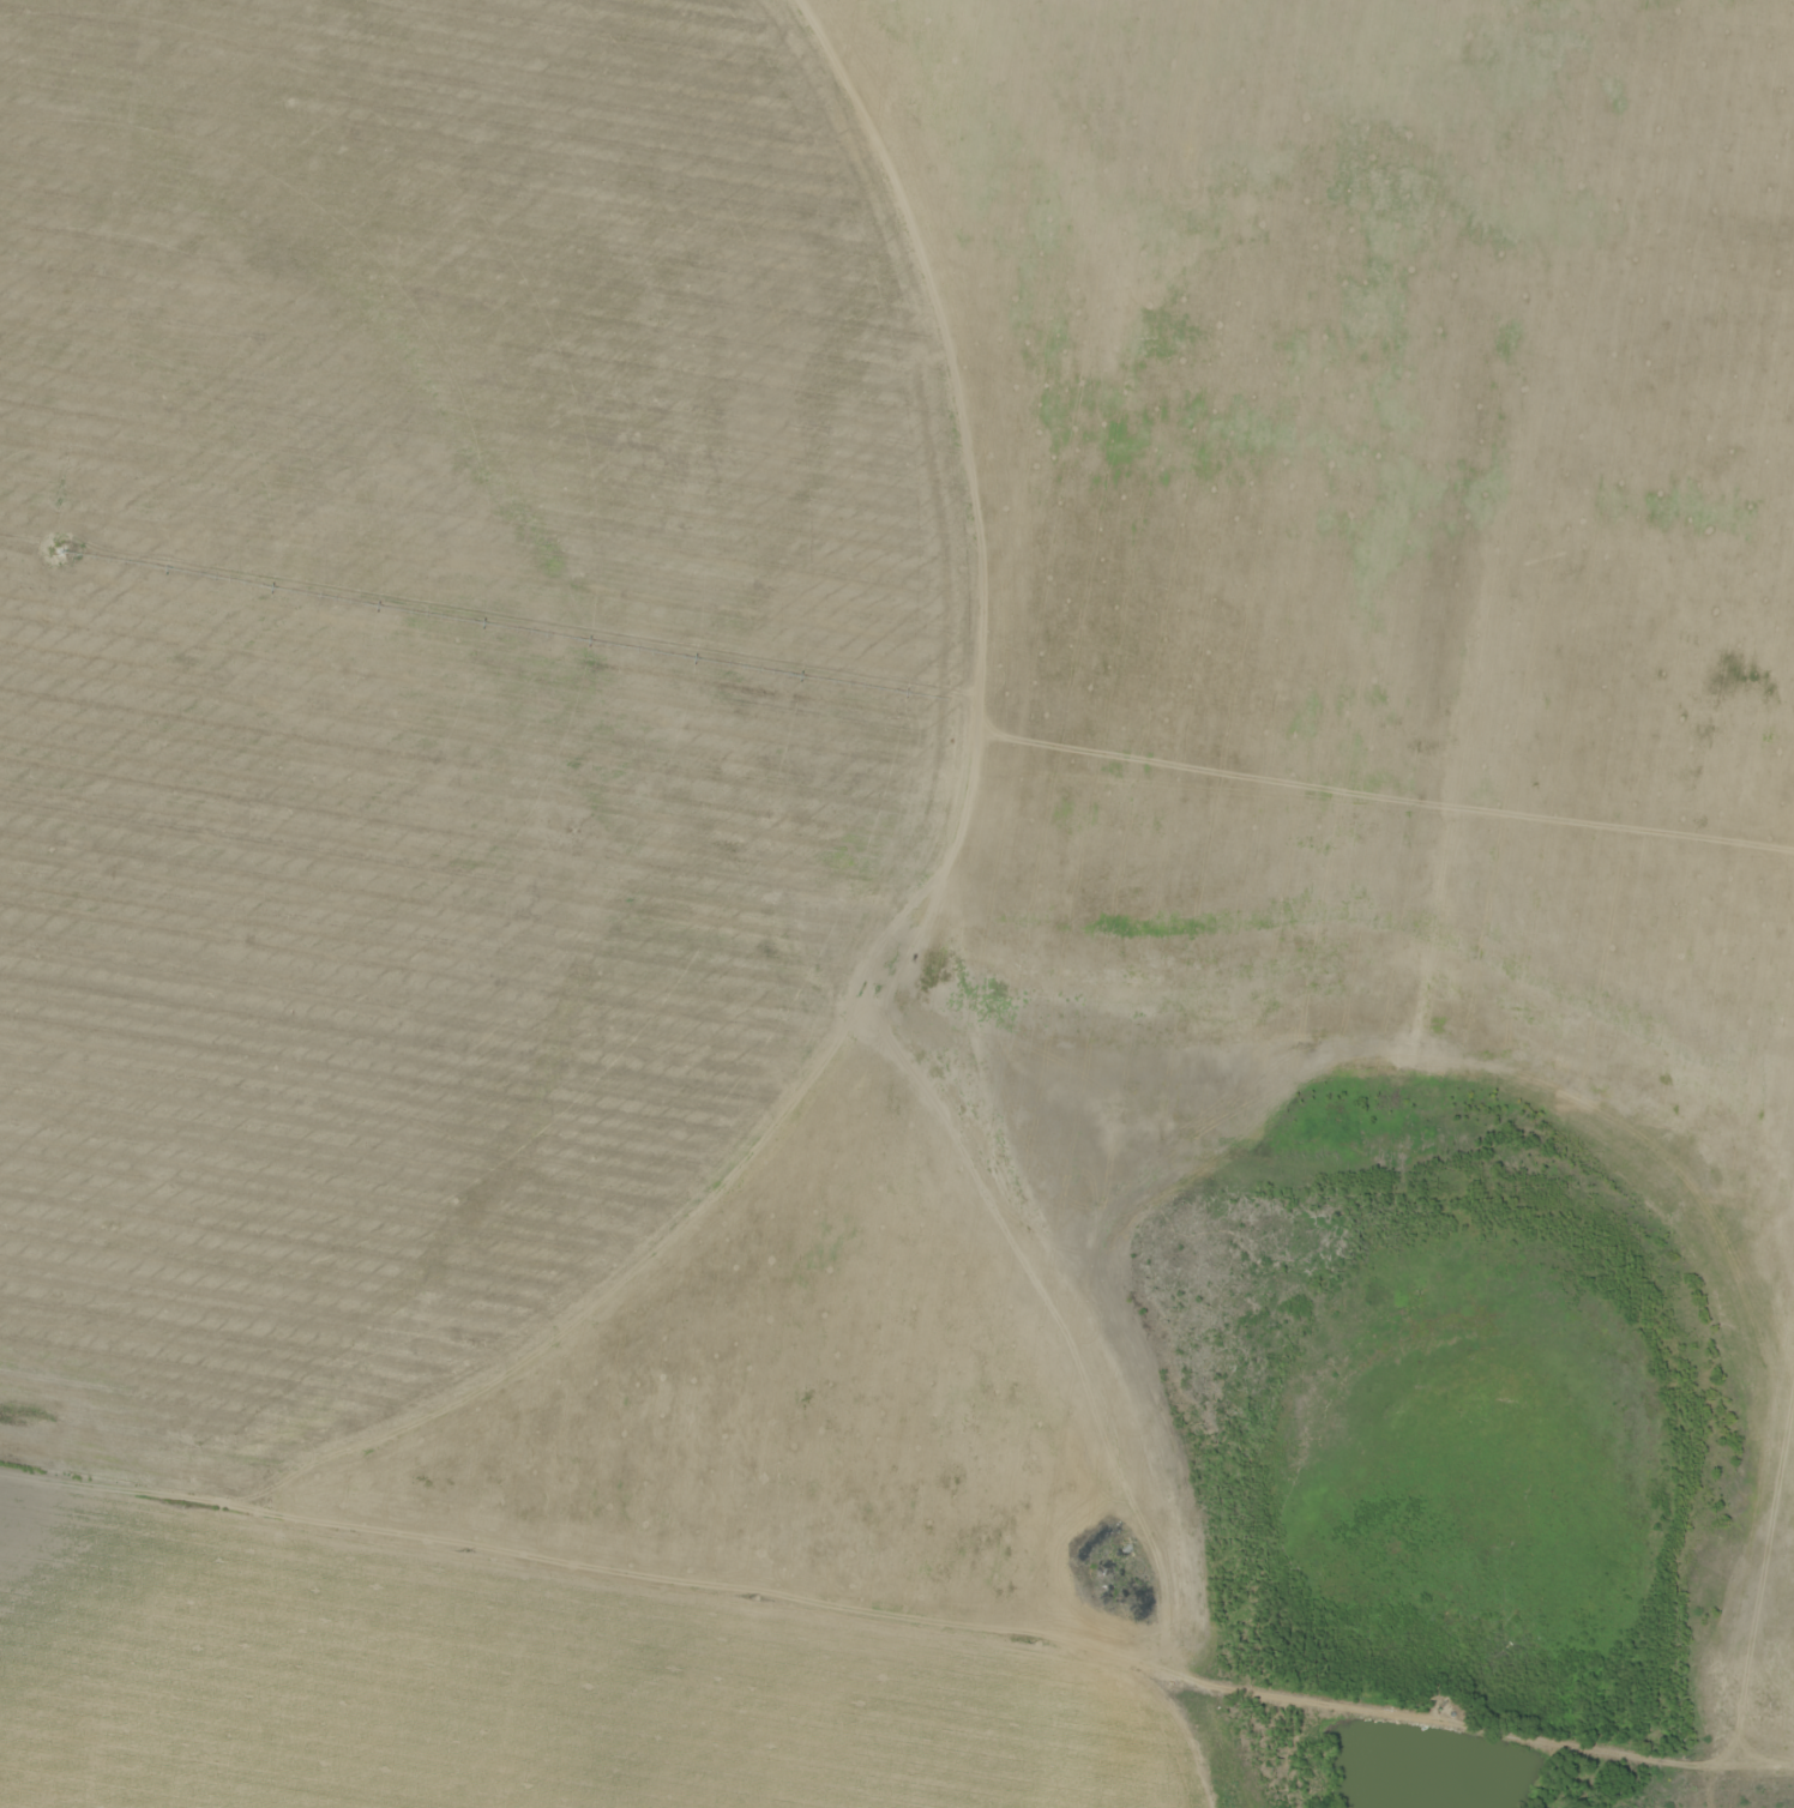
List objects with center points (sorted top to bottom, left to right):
road: (723, 1589)
road: (1615, 1740)

